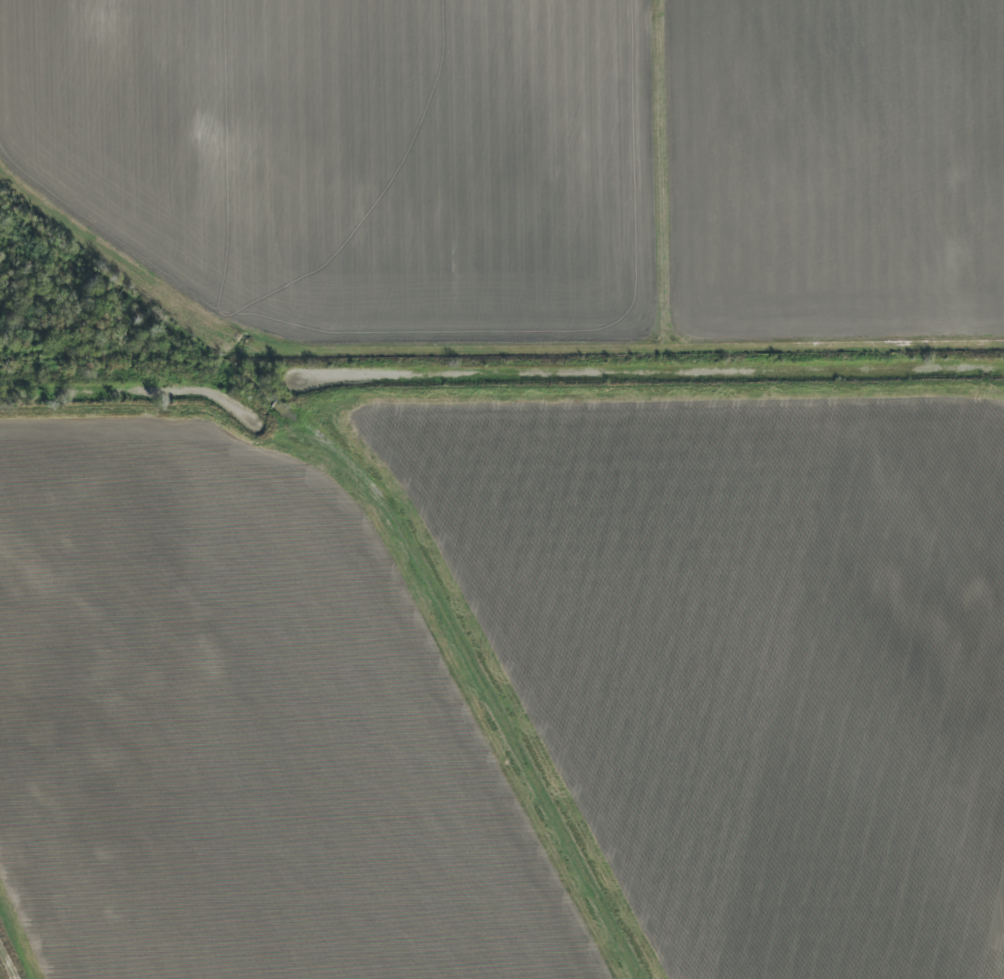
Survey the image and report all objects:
road: (666, 175)
road: (90, 342)
road: (471, 352)

